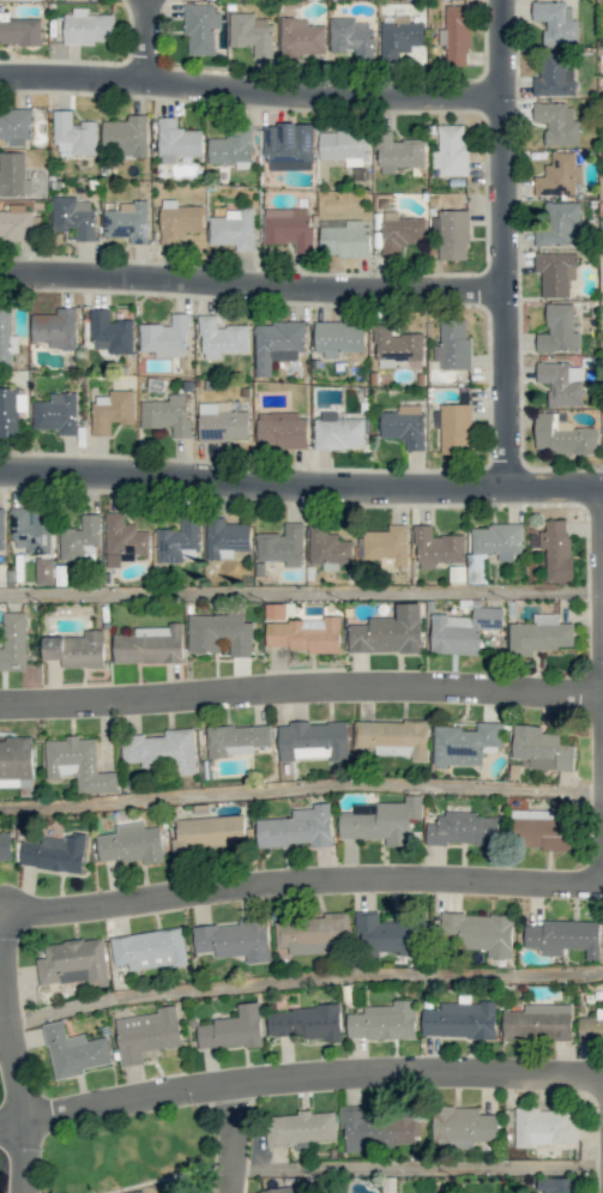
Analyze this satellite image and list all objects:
building: (556, 22)
building: (86, 26)
building: (200, 28)
building: (20, 30)
building: (251, 32)
building: (456, 35)
building: (399, 36)
building: (351, 37)
building: (300, 38)
road: (150, 41)
building: (554, 76)
road: (252, 88)
building: (557, 122)
building: (16, 126)
building: (73, 134)
building: (126, 135)
building: (177, 140)
building: (289, 146)
building: (344, 146)
building: (231, 150)
building: (451, 150)
building: (399, 152)
building: (13, 174)
building: (559, 175)
building: (73, 216)
building: (180, 219)
building: (127, 222)
building: (16, 224)
building: (560, 224)
building: (289, 228)
building: (233, 229)
building: (400, 231)
building: (452, 234)
building: (345, 239)
road: (506, 241)
building: (555, 272)
road: (253, 282)
building: (55, 327)
building: (559, 330)
building: (110, 332)
building: (7, 337)
building: (168, 337)
building: (338, 337)
building: (222, 338)
building: (277, 344)
building: (453, 344)
building: (397, 347)
building: (562, 382)
building: (11, 410)
building: (111, 410)
building: (58, 412)
building: (168, 414)
building: (222, 421)
building: (404, 426)
building: (456, 428)
building: (282, 429)
building: (338, 430)
building: (562, 435)
road: (301, 480)
building: (31, 530)
building: (227, 537)
building: (80, 540)
building: (123, 540)
building: (498, 540)
building: (179, 541)
building: (282, 544)
building: (387, 544)
building: (436, 547)
building: (328, 548)
building: (555, 548)
building: (476, 567)
building: (44, 571)
building: (457, 573)
road: (301, 592)
building: (276, 611)
building: (463, 629)
building: (390, 632)
building: (219, 633)
building: (303, 634)
building: (539, 634)
building: (13, 640)
building: (150, 644)
building: (77, 649)
road: (301, 688)
building: (393, 737)
building: (237, 739)
building: (314, 740)
building: (465, 743)
building: (542, 748)
building: (162, 751)
building: (16, 761)
building: (78, 764)
road: (301, 788)
building: (381, 820)
building: (542, 826)
building: (297, 827)
building: (463, 829)
building: (210, 833)
building: (129, 843)
building: (6, 848)
building: (54, 852)
road: (300, 882)
building: (481, 932)
building: (314, 934)
building: (382, 934)
building: (563, 936)
building: (235, 940)
building: (150, 948)
building: (73, 962)
building: (460, 1019)
building: (384, 1020)
building: (304, 1022)
building: (538, 1022)
building: (591, 1026)
building: (234, 1028)
building: (146, 1034)
building: (73, 1050)
road: (11, 1054)
road: (300, 1074)
building: (544, 1126)
building: (301, 1127)
building: (380, 1129)
road: (229, 1137)
road: (415, 1165)
building: (559, 1185)
building: (285, 1188)

